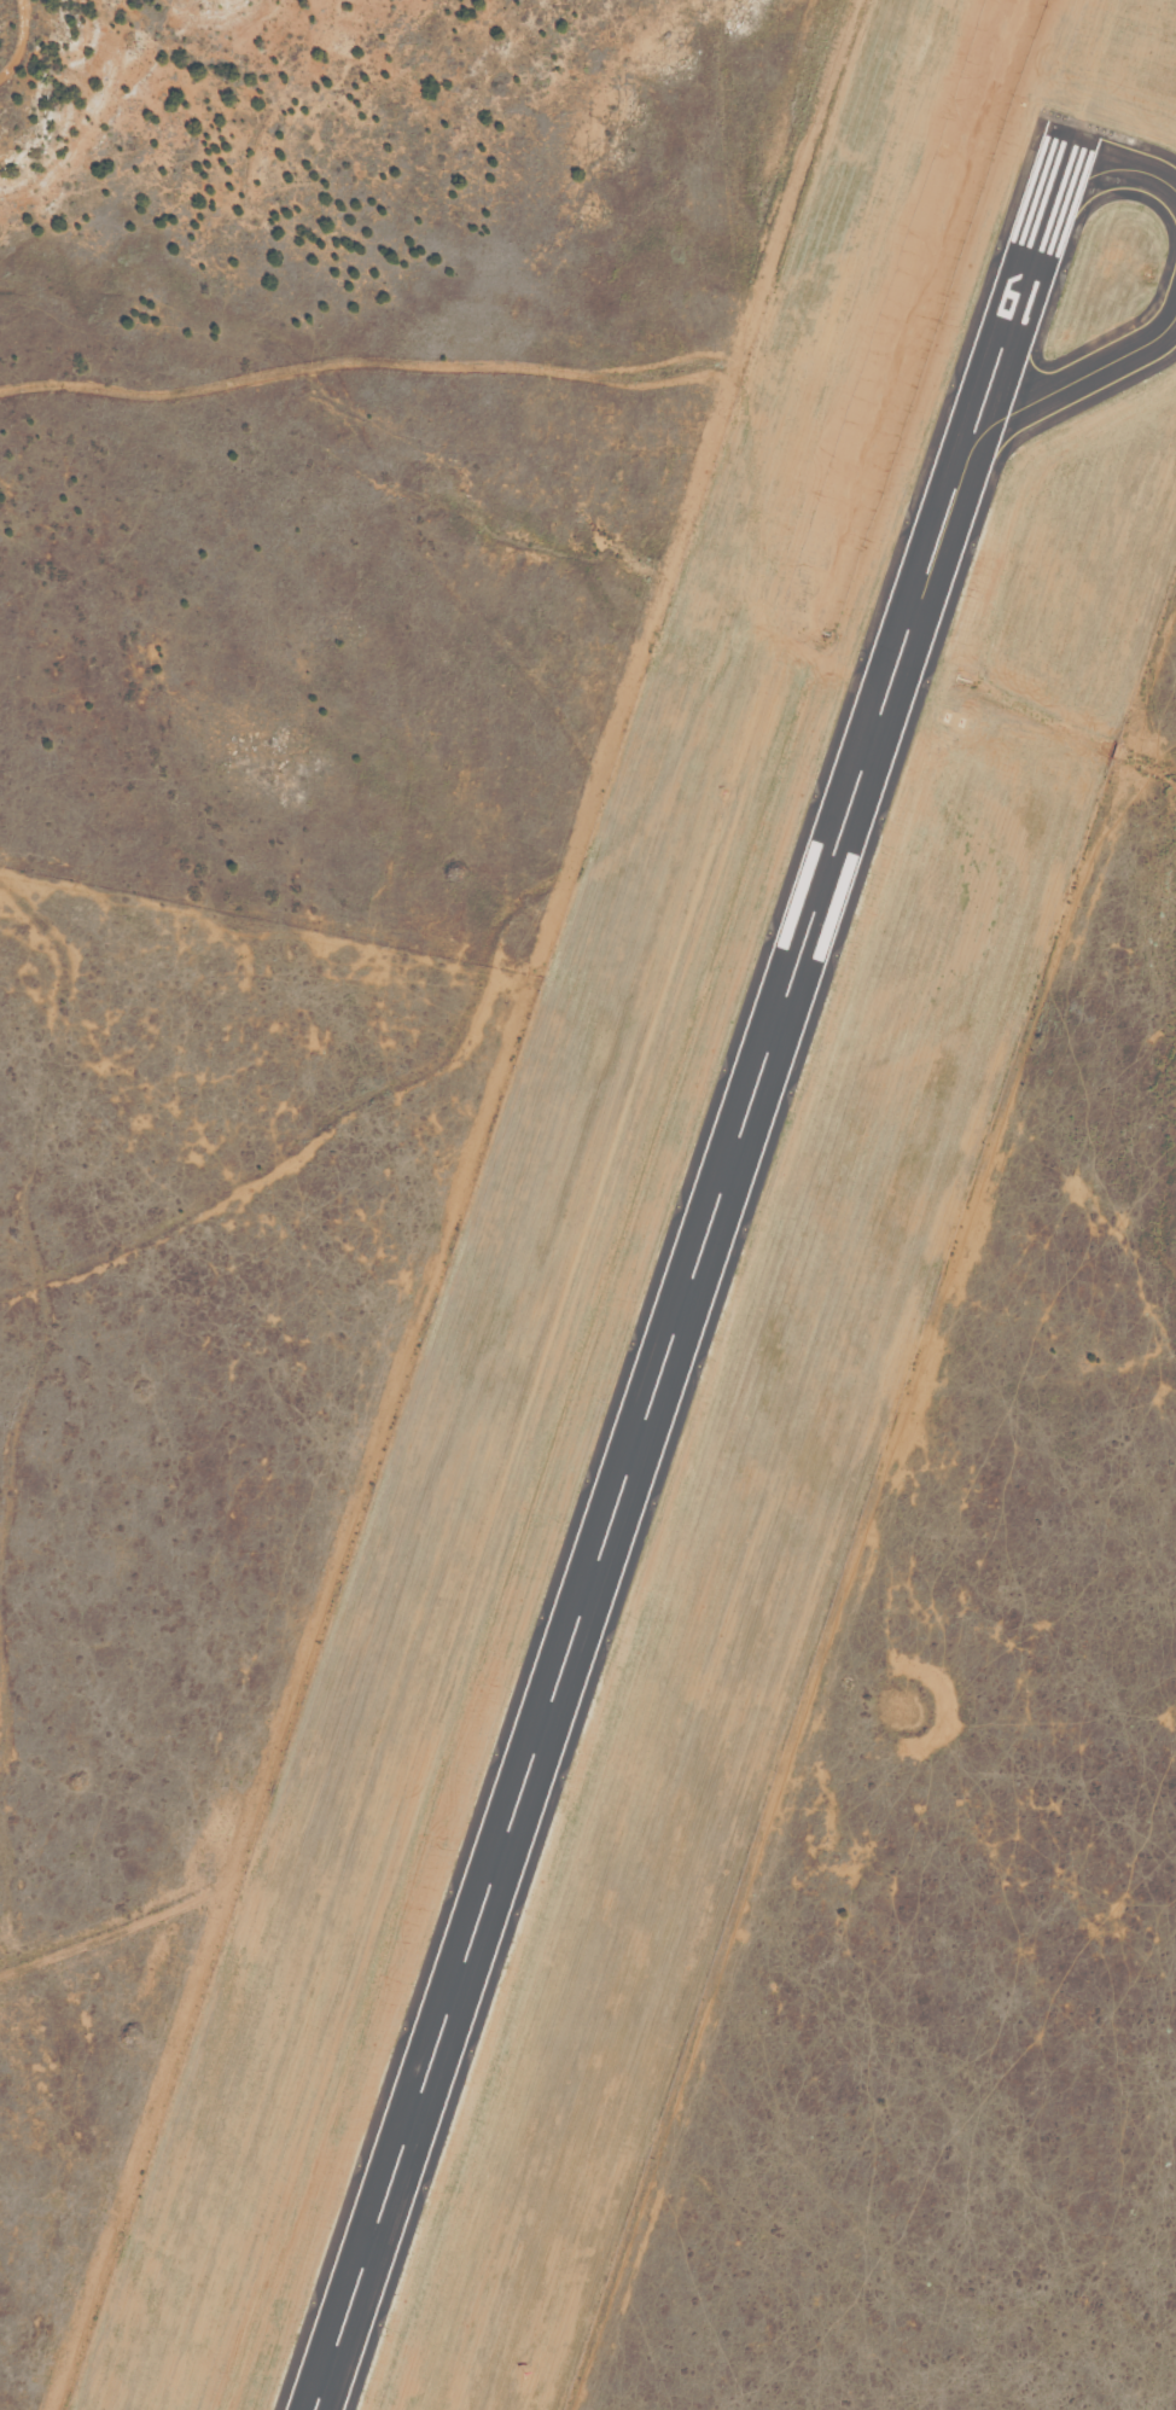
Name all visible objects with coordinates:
road: (22, 37)
airport taxiway: (1117, 169)
road: (506, 368)
airport taxiway: (1067, 383)
road: (595, 1113)
airport: (685, 1253)
airport runway: (682, 1297)

